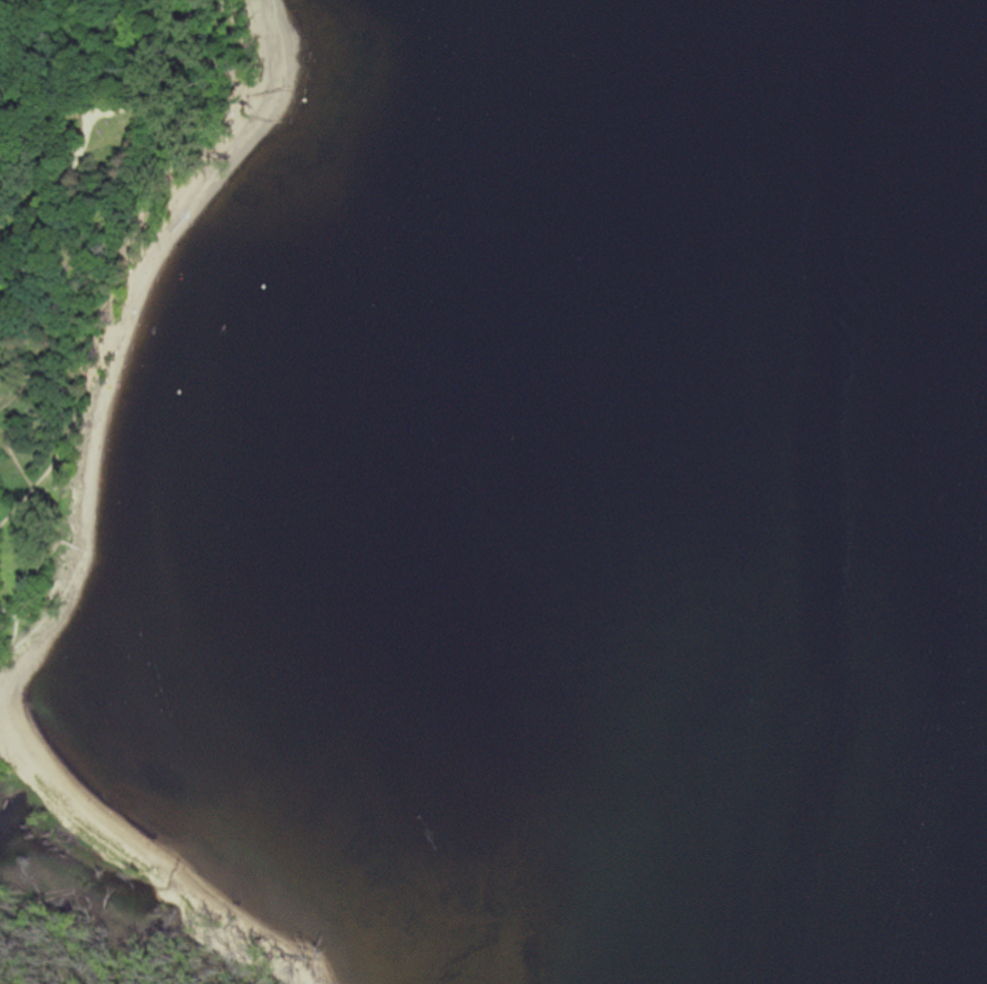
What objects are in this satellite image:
road: (71, 56)
road: (81, 148)
river: (940, 202)
park: (111, 444)
road: (58, 449)
river: (947, 693)

